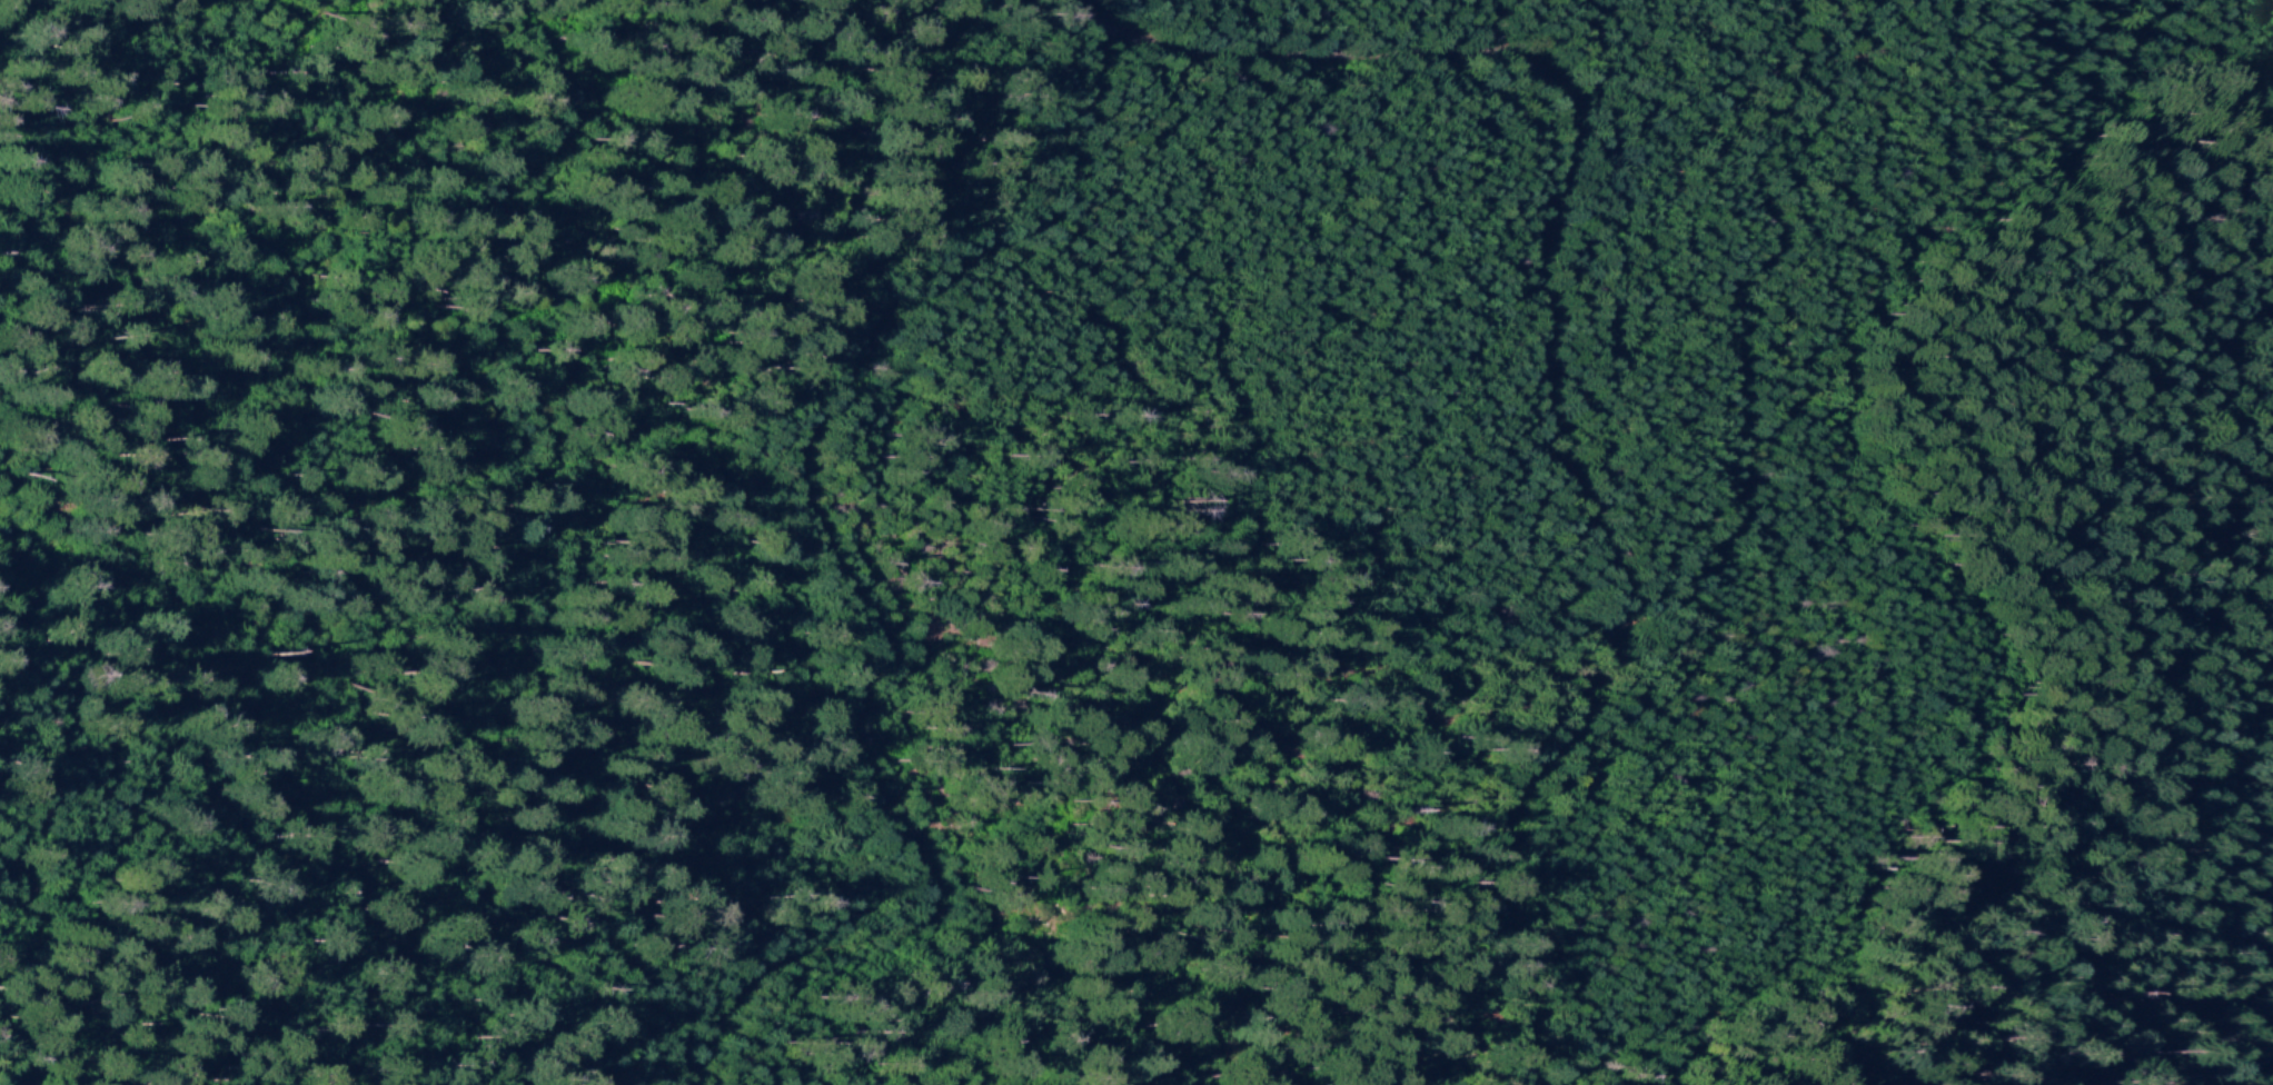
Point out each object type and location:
road: (182, 937)

